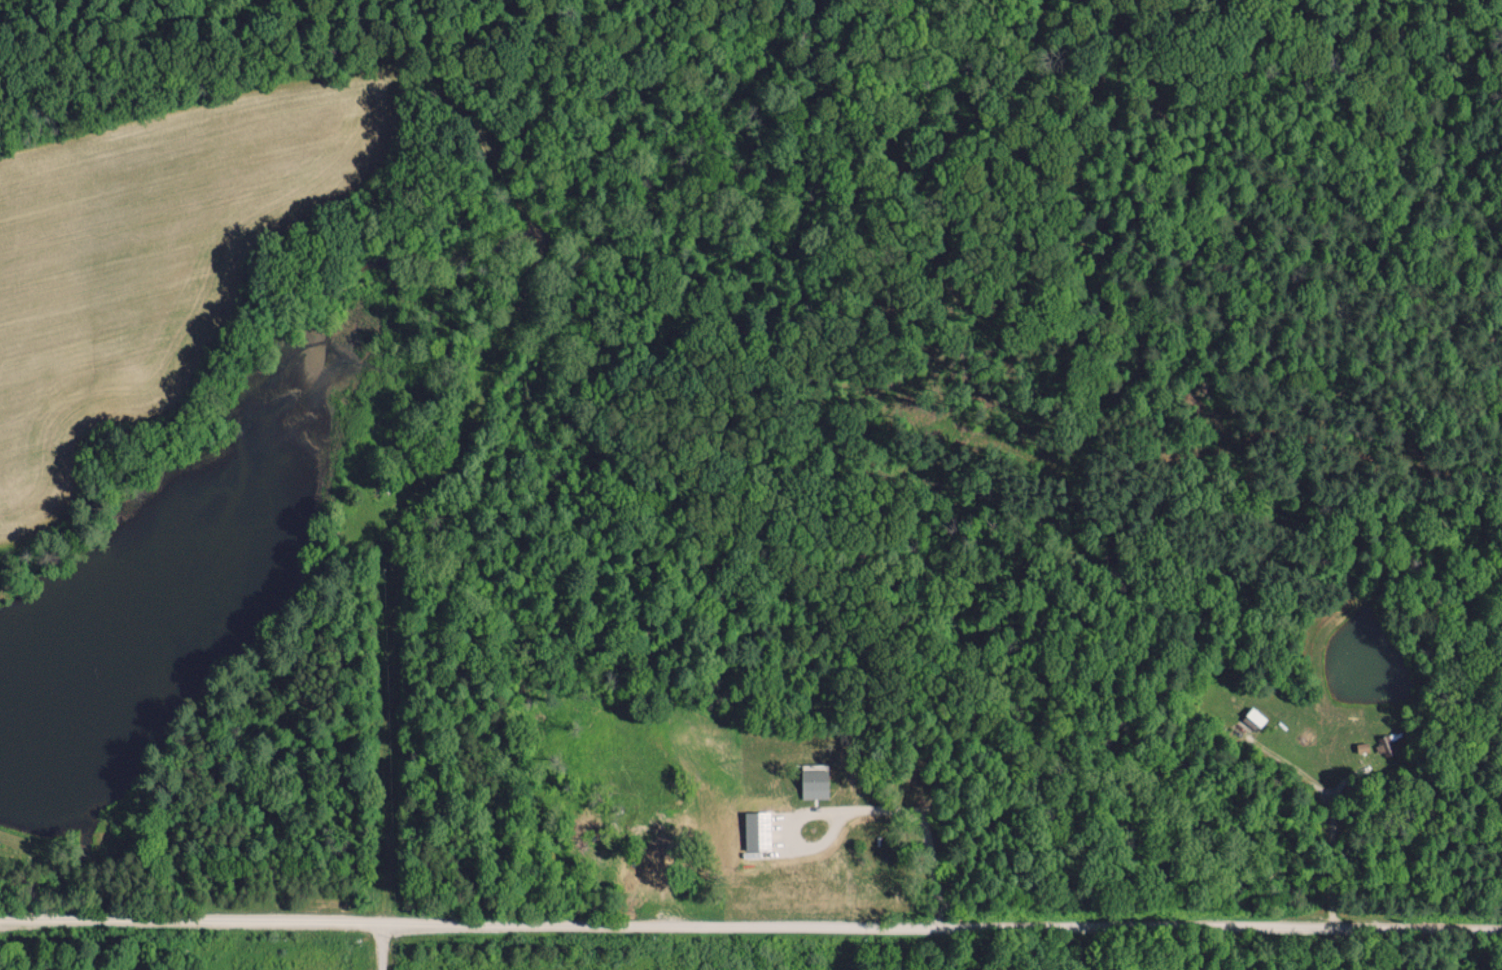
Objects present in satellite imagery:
building: (814, 783)
road: (873, 809)
road: (1333, 825)
building: (756, 830)
dam: (10, 835)
road: (751, 927)
road: (383, 948)

